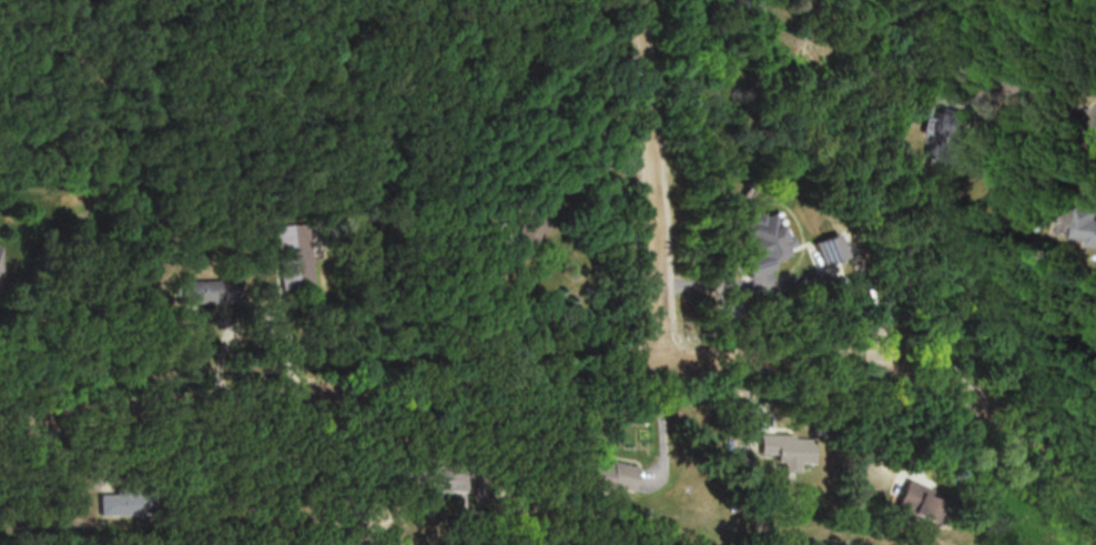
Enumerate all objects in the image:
road: (1041, 92)
building: (944, 133)
road: (653, 181)
building: (1086, 224)
building: (528, 225)
building: (760, 242)
building: (829, 246)
building: (285, 258)
building: (205, 290)
road: (901, 362)
road: (329, 392)
road: (662, 424)
building: (788, 450)
road: (526, 455)
building: (606, 474)
building: (915, 501)
building: (118, 503)

